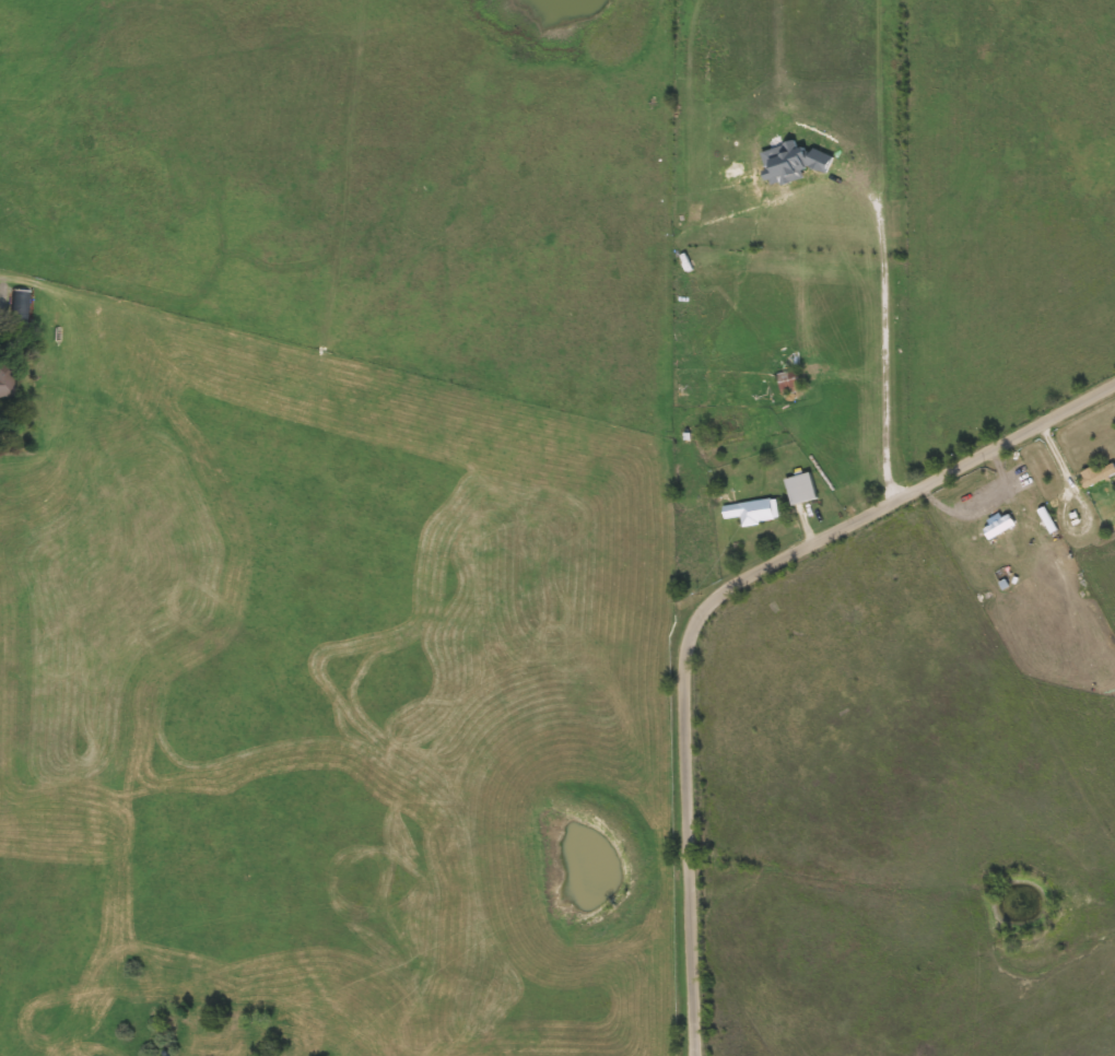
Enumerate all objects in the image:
road: (885, 331)
building: (4, 382)
building: (789, 382)
building: (801, 489)
building: (753, 512)
road: (716, 607)

